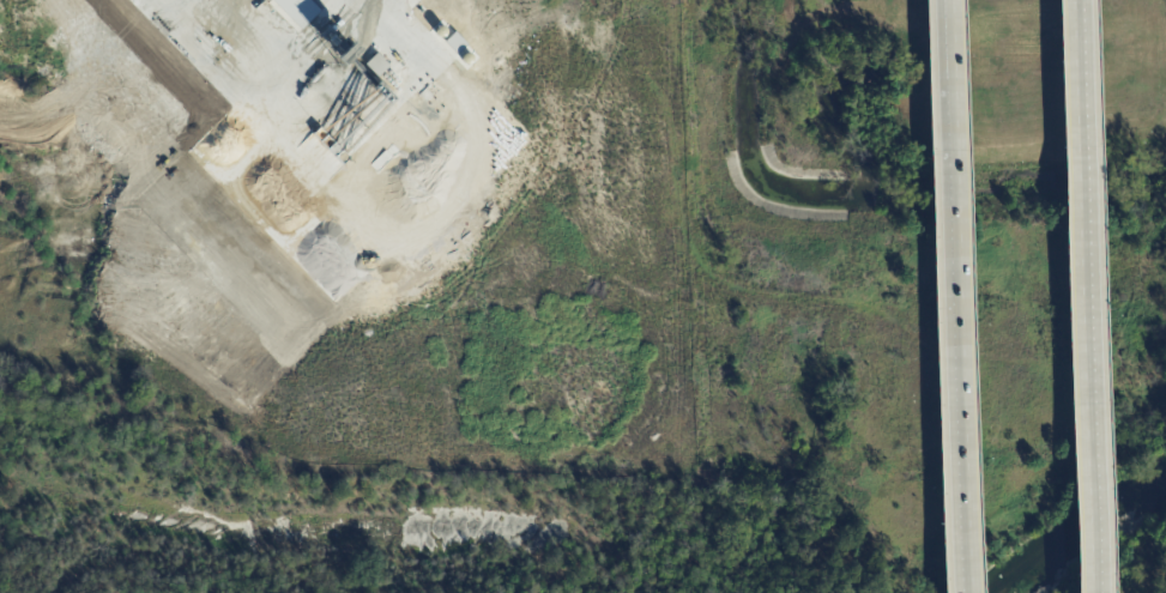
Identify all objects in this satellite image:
road: (950, 296)
road: (1081, 296)

